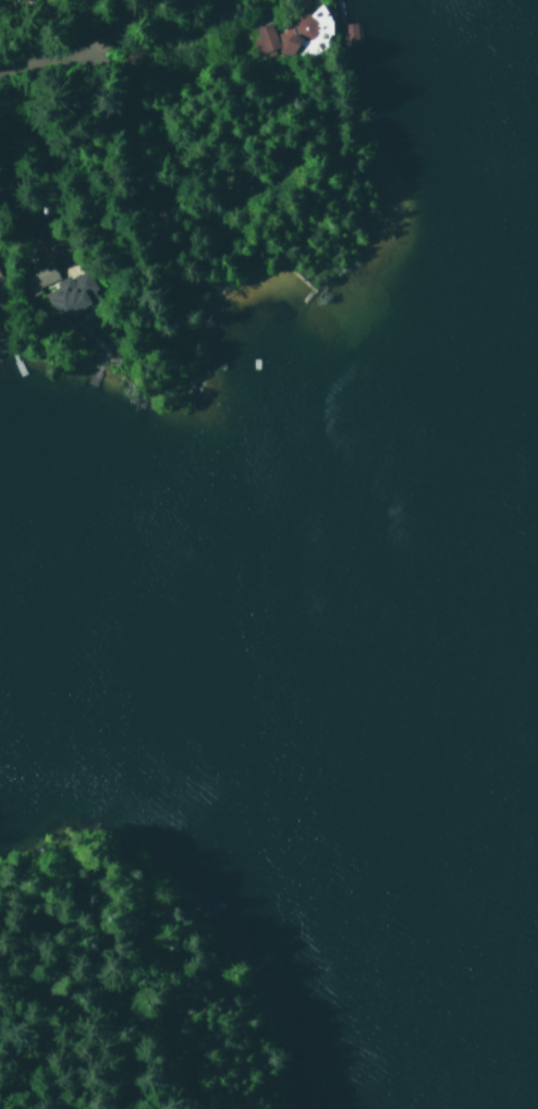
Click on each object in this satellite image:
building: (286, 34)
road: (53, 62)
building: (0, 277)
building: (59, 289)

